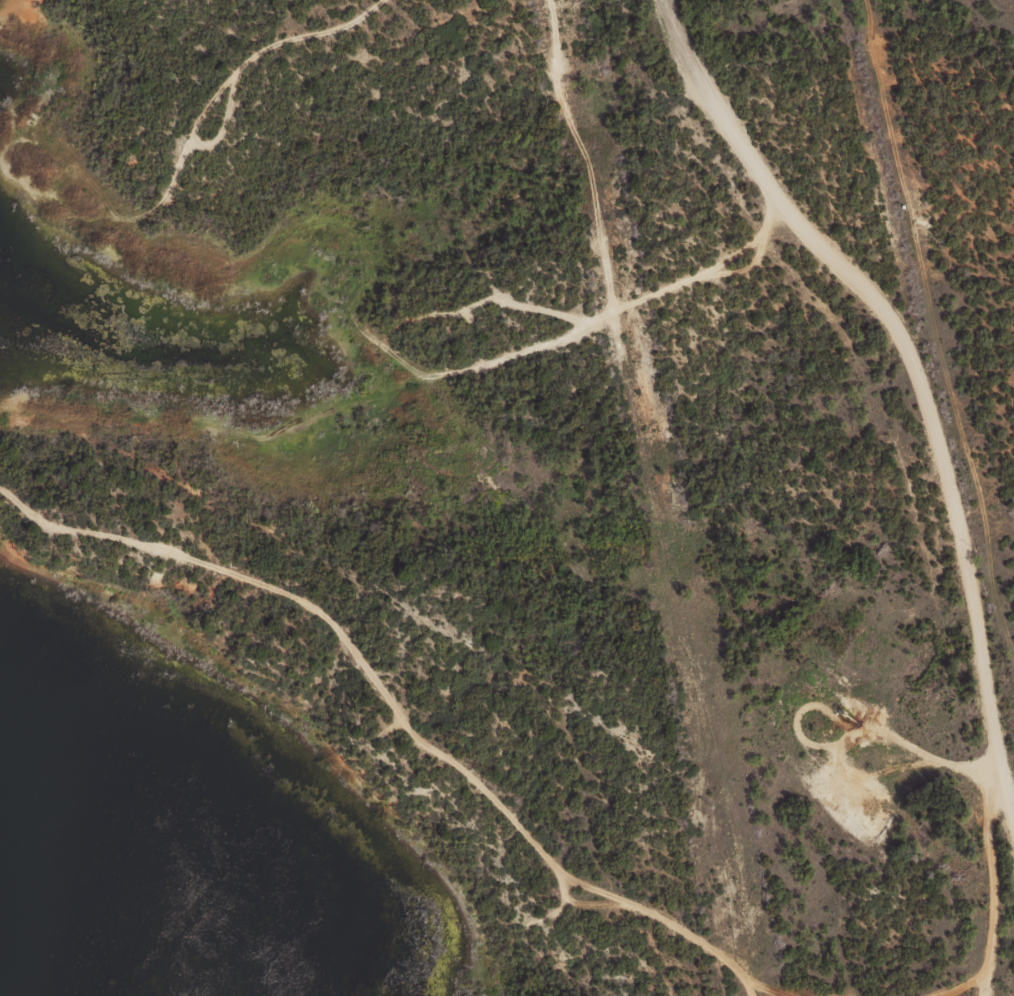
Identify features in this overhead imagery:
road: (307, 11)
road: (227, 65)
road: (540, 149)
road: (390, 380)
road: (904, 465)
road: (470, 785)

